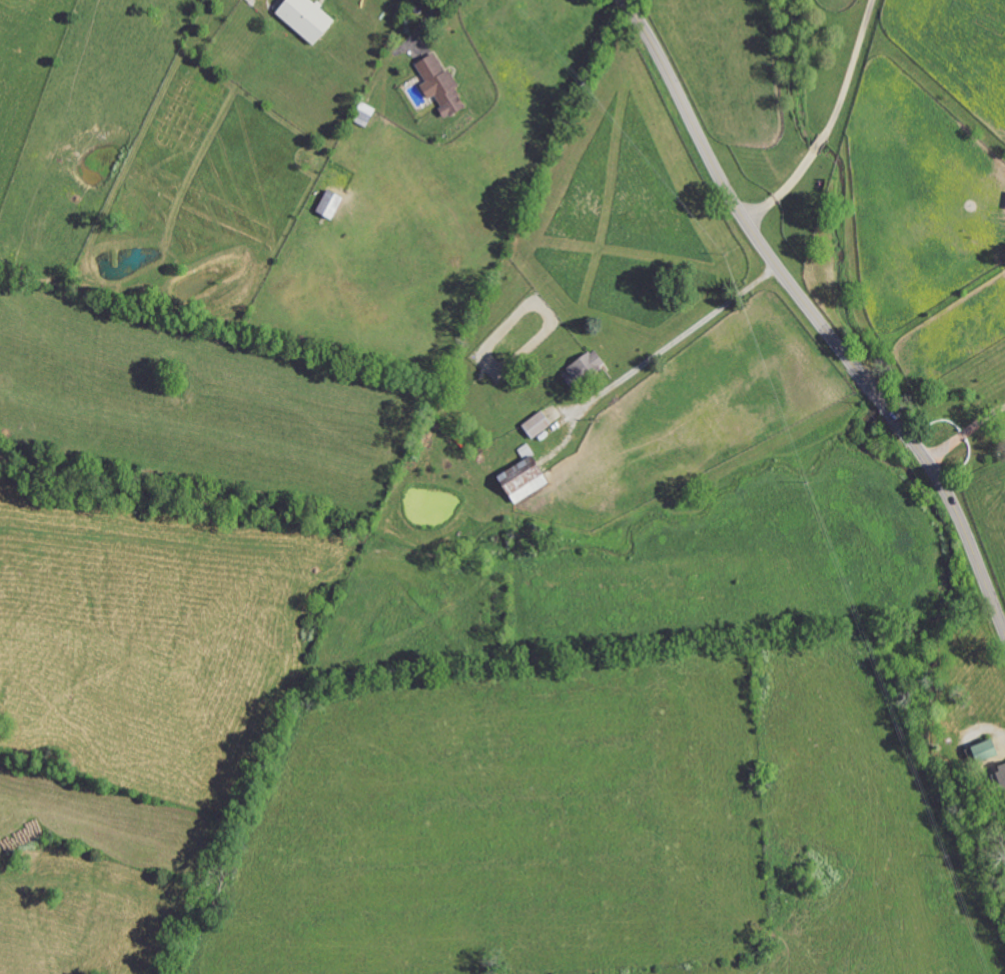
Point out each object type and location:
building: (310, 19)
road: (429, 20)
building: (443, 86)
road: (830, 124)
building: (333, 204)
road: (814, 316)
road: (679, 339)
building: (586, 369)
building: (539, 425)
road: (965, 433)
building: (528, 476)
building: (988, 751)
building: (1003, 771)

